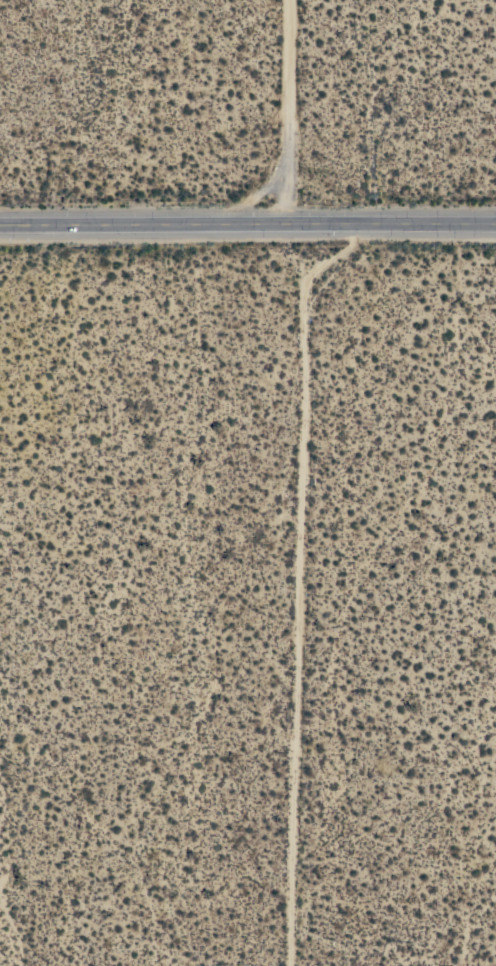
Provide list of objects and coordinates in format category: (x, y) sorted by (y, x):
road: (286, 113)
road: (248, 225)

